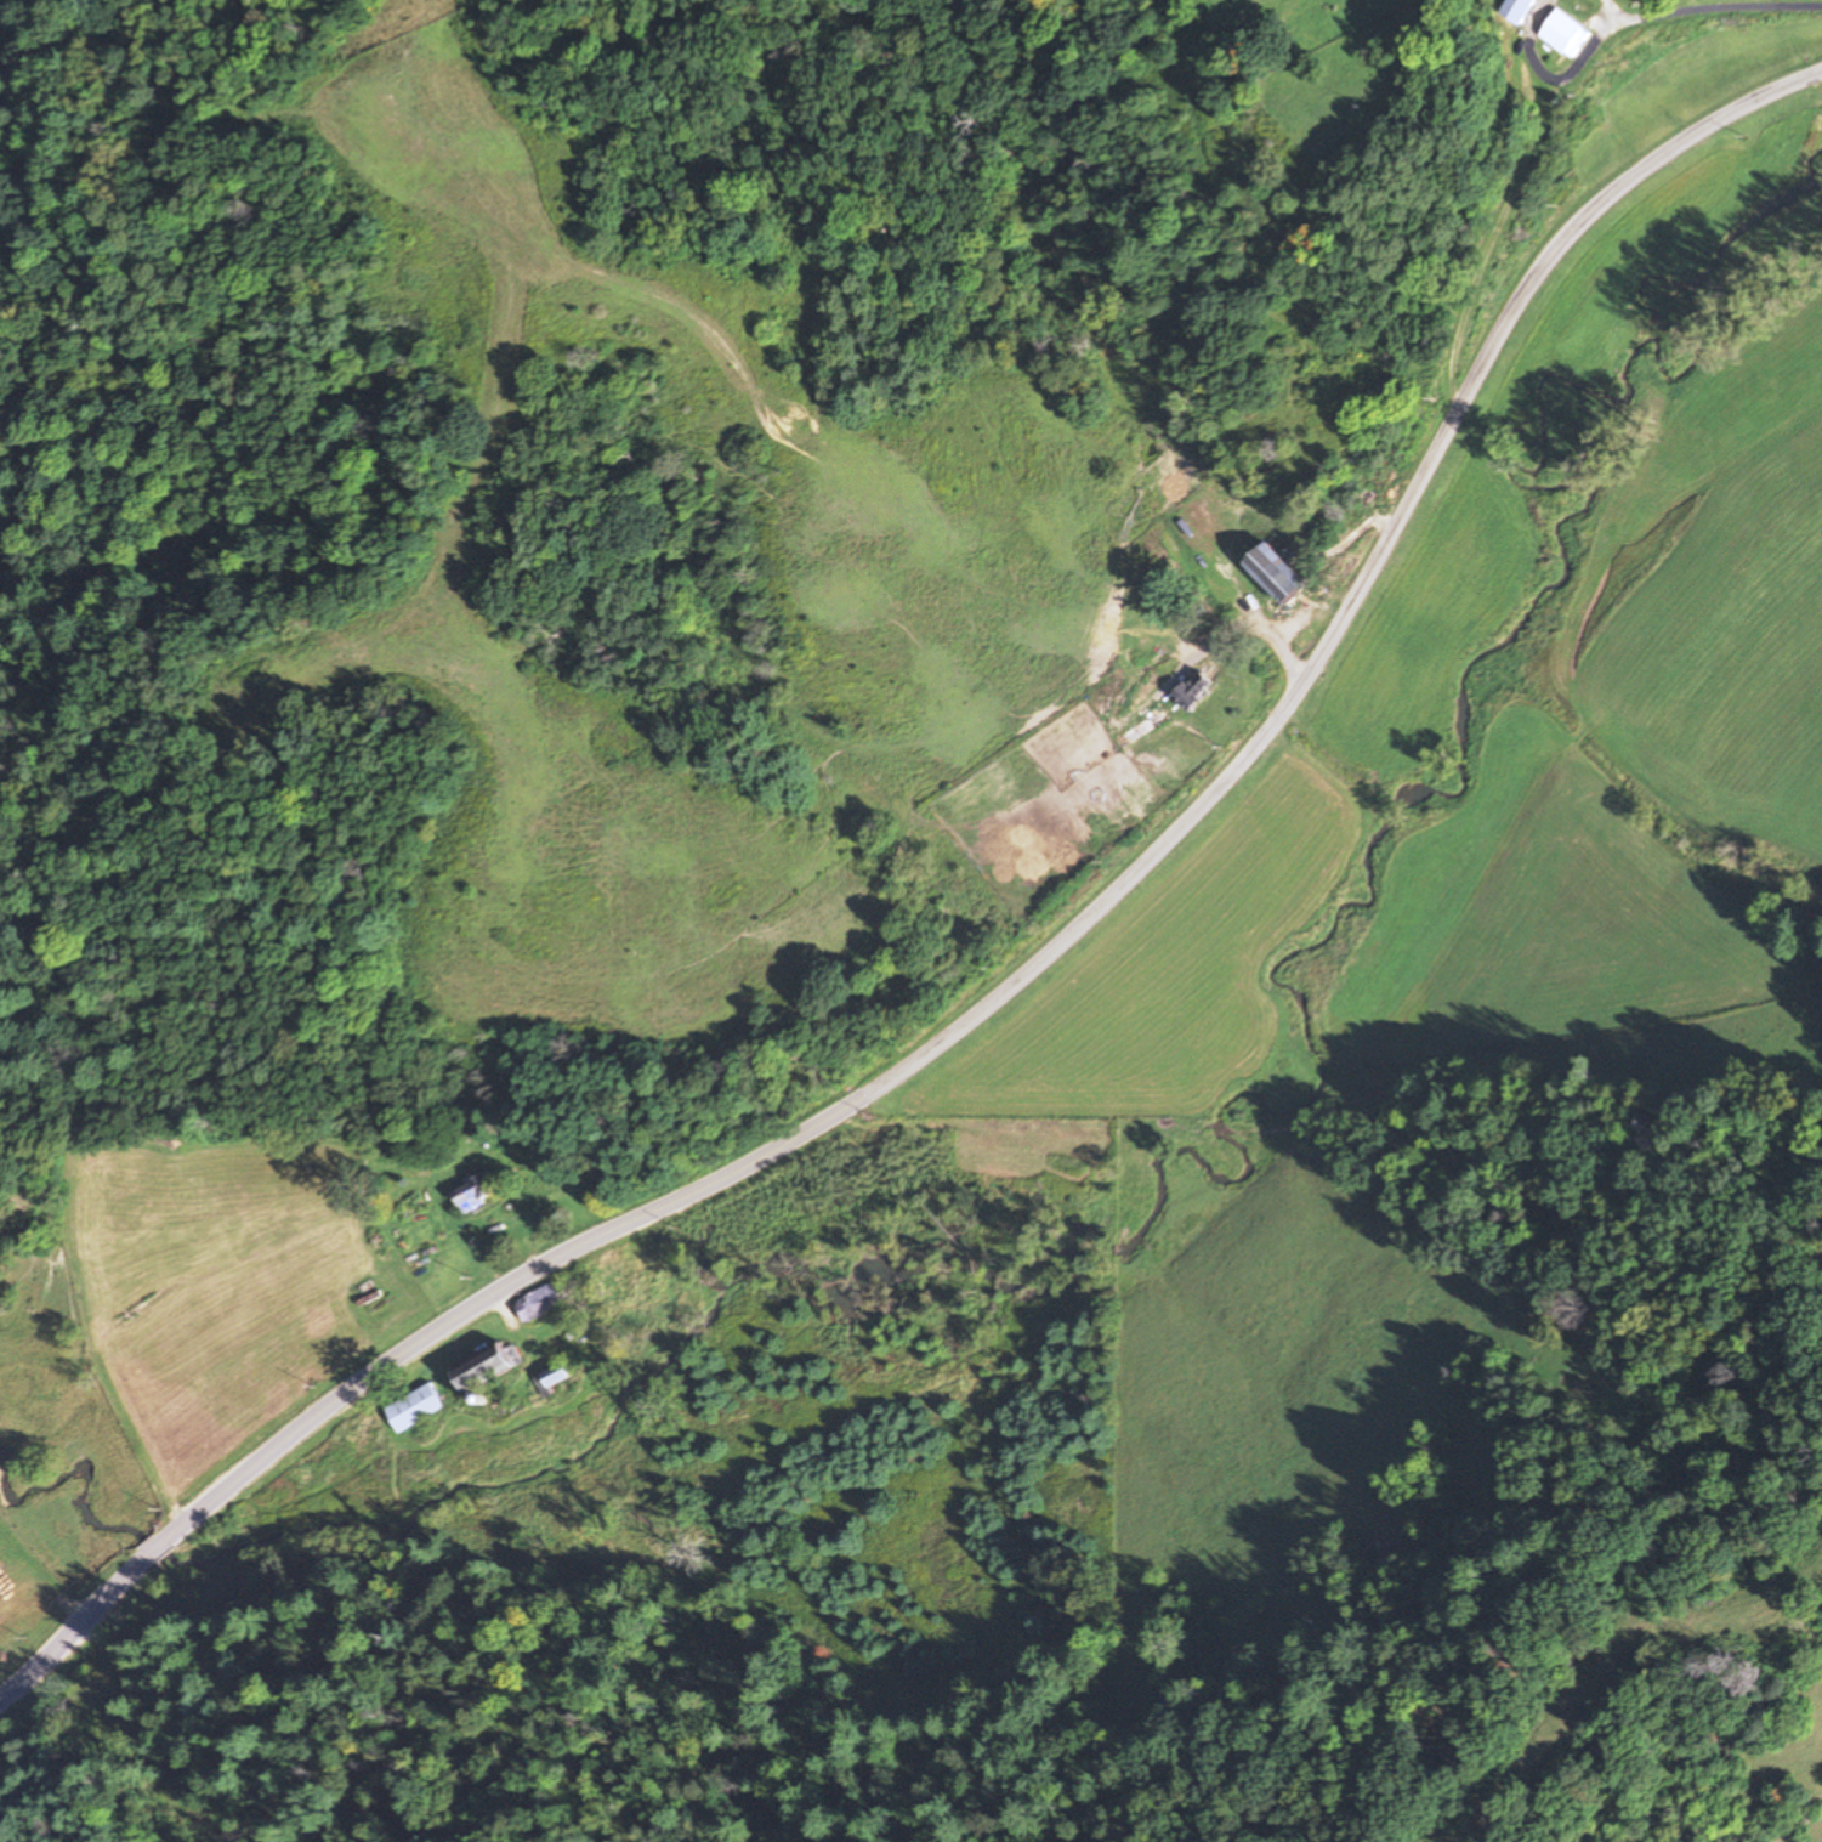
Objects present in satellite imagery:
building: (1521, 10)
building: (1572, 33)
road: (1516, 169)
building: (1282, 574)
road: (1339, 618)
building: (1201, 690)
building: (1145, 729)
building: (478, 1192)
building: (545, 1300)
building: (493, 1368)
building: (556, 1378)
road: (373, 1383)
building: (418, 1409)

